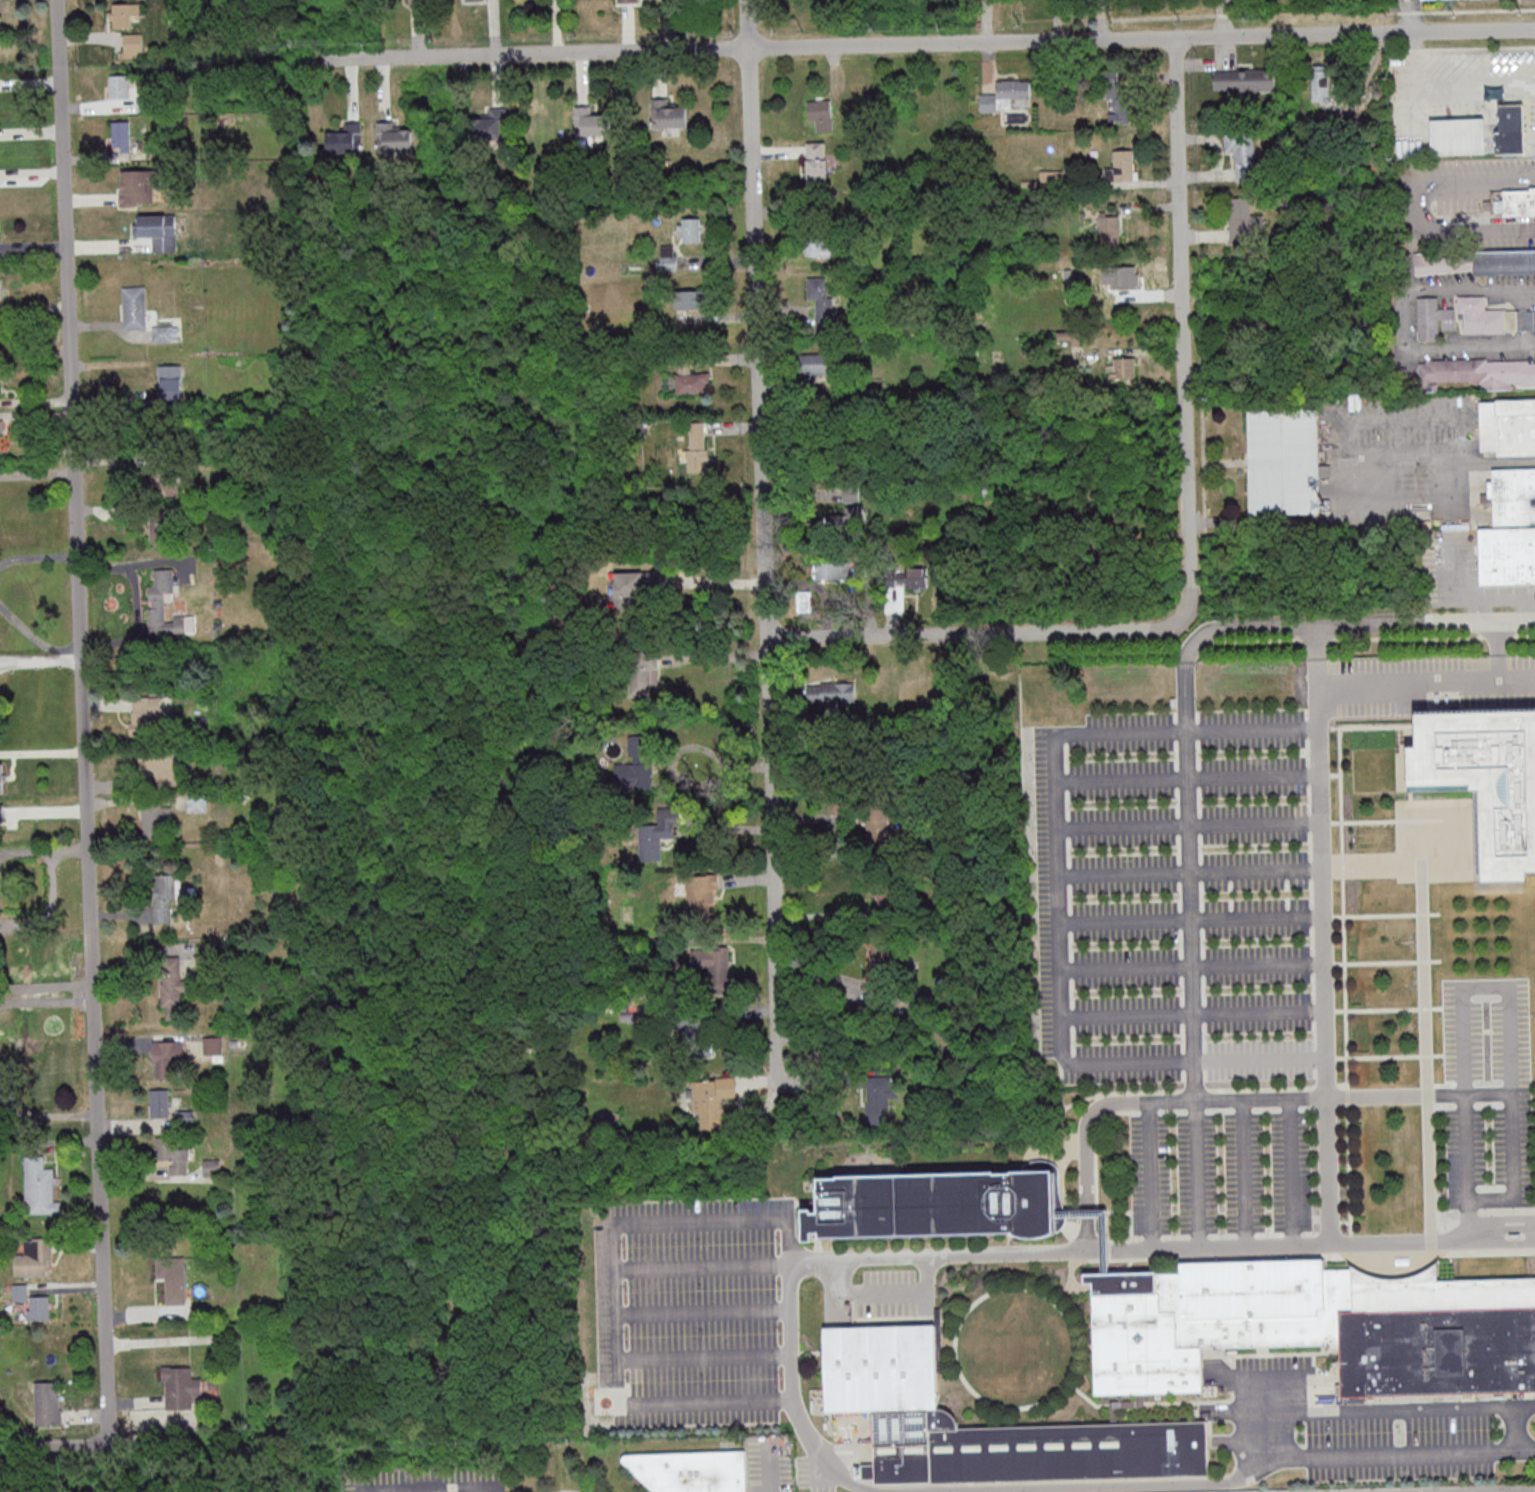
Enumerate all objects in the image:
building: (414, 1)
building: (625, 1)
building: (120, 14)
road: (1410, 14)
road: (1223, 17)
building: (0, 30)
road: (939, 42)
building: (132, 44)
building: (1245, 79)
building: (1321, 85)
building: (119, 86)
building: (1005, 95)
building: (1121, 99)
building: (668, 114)
building: (822, 117)
building: (592, 123)
building: (491, 125)
building: (1510, 128)
building: (120, 136)
building: (1458, 136)
building: (394, 137)
building: (346, 138)
building: (1242, 150)
building: (1122, 166)
building: (815, 167)
building: (1052, 179)
building: (140, 186)
building: (1519, 200)
road: (1416, 209)
building: (1244, 219)
building: (689, 229)
building: (1109, 229)
building: (158, 230)
building: (817, 247)
building: (668, 257)
building: (1477, 262)
building: (1120, 276)
building: (0, 288)
building: (688, 299)
building: (819, 303)
building: (132, 308)
building: (1470, 317)
road: (1403, 318)
road: (1183, 321)
building: (165, 333)
building: (1121, 366)
building: (816, 367)
building: (1476, 373)
building: (691, 379)
building: (170, 381)
building: (1508, 426)
building: (1, 435)
building: (696, 449)
road: (1456, 457)
building: (1284, 460)
building: (163, 475)
building: (989, 489)
building: (851, 493)
building: (843, 521)
road: (1248, 521)
building: (159, 527)
building: (1510, 529)
road: (764, 548)
road: (38, 556)
building: (1009, 567)
building: (831, 569)
building: (904, 575)
building: (635, 583)
building: (166, 605)
road: (1353, 624)
road: (982, 632)
road: (36, 636)
road: (1495, 649)
road: (716, 654)
road: (1313, 654)
building: (642, 672)
road: (1424, 680)
building: (831, 691)
building: (145, 715)
road: (84, 722)
road: (42, 751)
building: (159, 764)
building: (634, 773)
building: (1485, 777)
building: (2, 778)
road: (1186, 778)
building: (197, 803)
building: (2, 816)
building: (156, 820)
road: (1188, 824)
building: (878, 831)
building: (654, 834)
road: (1191, 878)
building: (701, 894)
building: (165, 895)
building: (883, 895)
road: (1056, 900)
road: (1190, 919)
building: (883, 955)
road: (1324, 964)
building: (709, 966)
road: (1191, 966)
building: (172, 987)
road: (46, 989)
road: (1193, 1014)
building: (696, 1025)
building: (616, 1036)
road: (1509, 1043)
building: (213, 1045)
building: (168, 1059)
road: (1488, 1094)
road: (1306, 1097)
building: (712, 1101)
building: (878, 1102)
building: (160, 1103)
road: (47, 1114)
building: (185, 1118)
building: (608, 1120)
building: (172, 1154)
building: (211, 1166)
road: (1150, 1175)
building: (38, 1186)
building: (941, 1204)
road: (1090, 1218)
road: (1091, 1242)
road: (1330, 1246)
road: (1113, 1251)
building: (35, 1257)
road: (814, 1259)
road: (699, 1264)
road: (610, 1267)
building: (175, 1283)
road: (881, 1291)
building: (34, 1303)
road: (700, 1310)
building: (1315, 1326)
building: (878, 1365)
building: (178, 1385)
road: (681, 1399)
building: (46, 1403)
road: (1396, 1411)
road: (54, 1446)
road: (1397, 1457)
road: (769, 1467)
building: (689, 1470)
road: (1146, 1487)
road: (433, 1488)
road: (1477, 1489)
road: (567, 1490)

